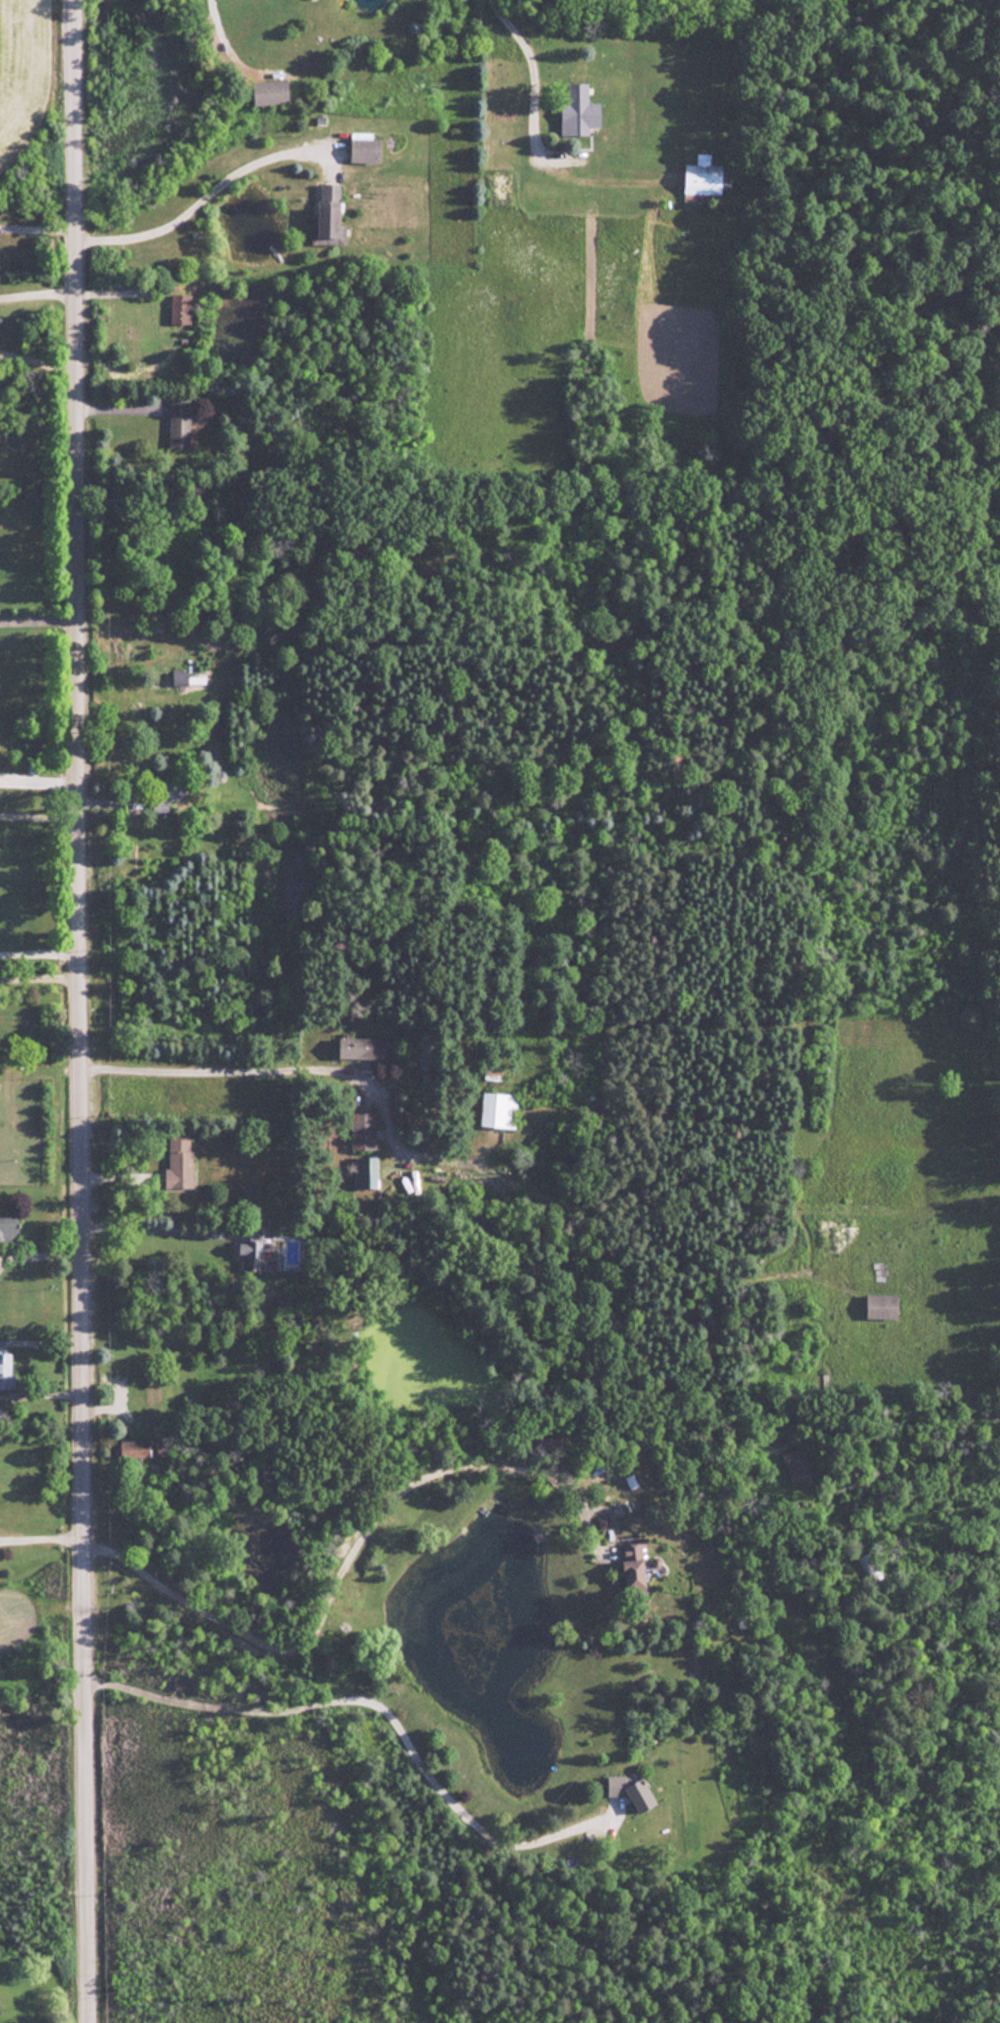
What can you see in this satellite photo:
road: (526, 79)
building: (267, 92)
building: (576, 117)
building: (362, 149)
building: (702, 181)
road: (203, 193)
building: (326, 217)
road: (39, 224)
road: (39, 288)
building: (178, 309)
road: (40, 361)
building: (177, 422)
road: (38, 620)
building: (177, 678)
building: (164, 794)
road: (37, 817)
road: (37, 953)
road: (37, 978)
road: (75, 1011)
building: (359, 1048)
road: (225, 1071)
building: (496, 1110)
building: (361, 1131)
building: (177, 1161)
building: (363, 1172)
building: (8, 1228)
road: (156, 1229)
building: (250, 1248)
road: (43, 1254)
building: (878, 1306)
building: (5, 1371)
building: (547, 1438)
building: (129, 1448)
building: (794, 1464)
road: (44, 1538)
building: (867, 1567)
building: (631, 1568)
road: (338, 1569)
road: (379, 1708)
building: (626, 1790)

